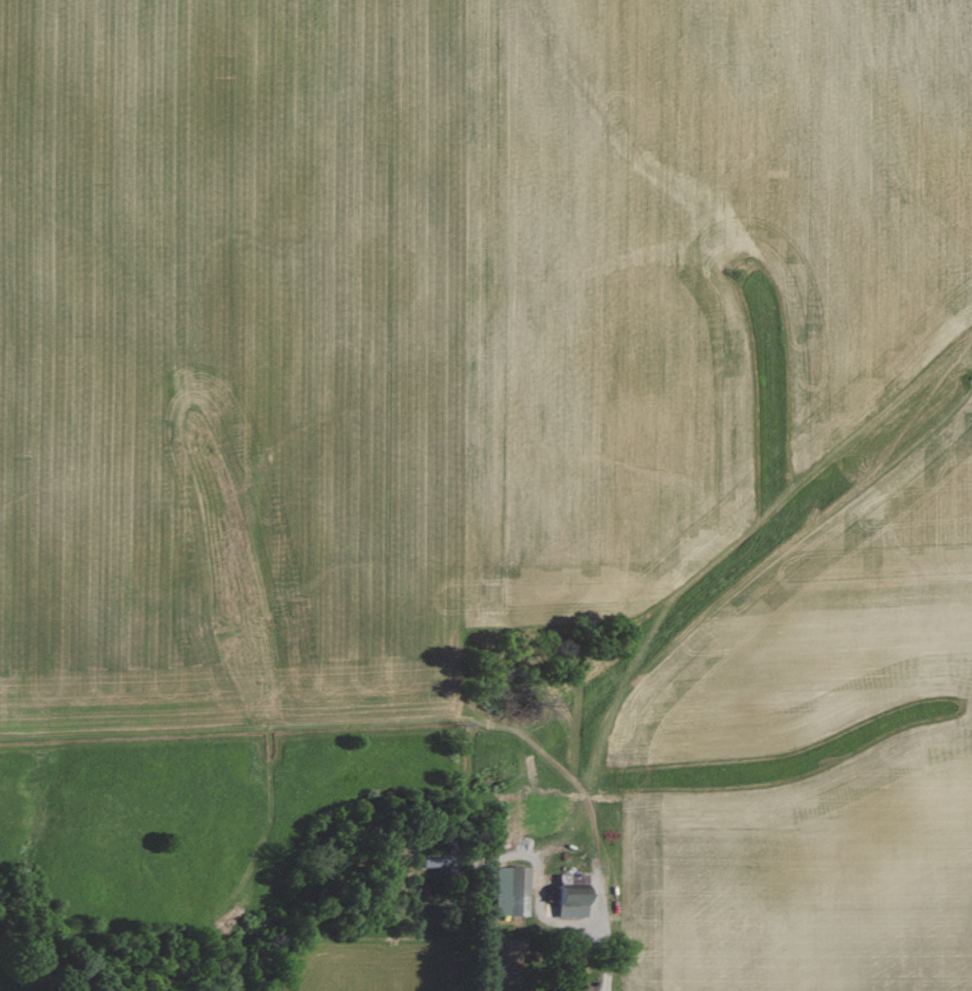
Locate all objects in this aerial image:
building: (510, 891)
building: (569, 898)
road: (598, 960)

